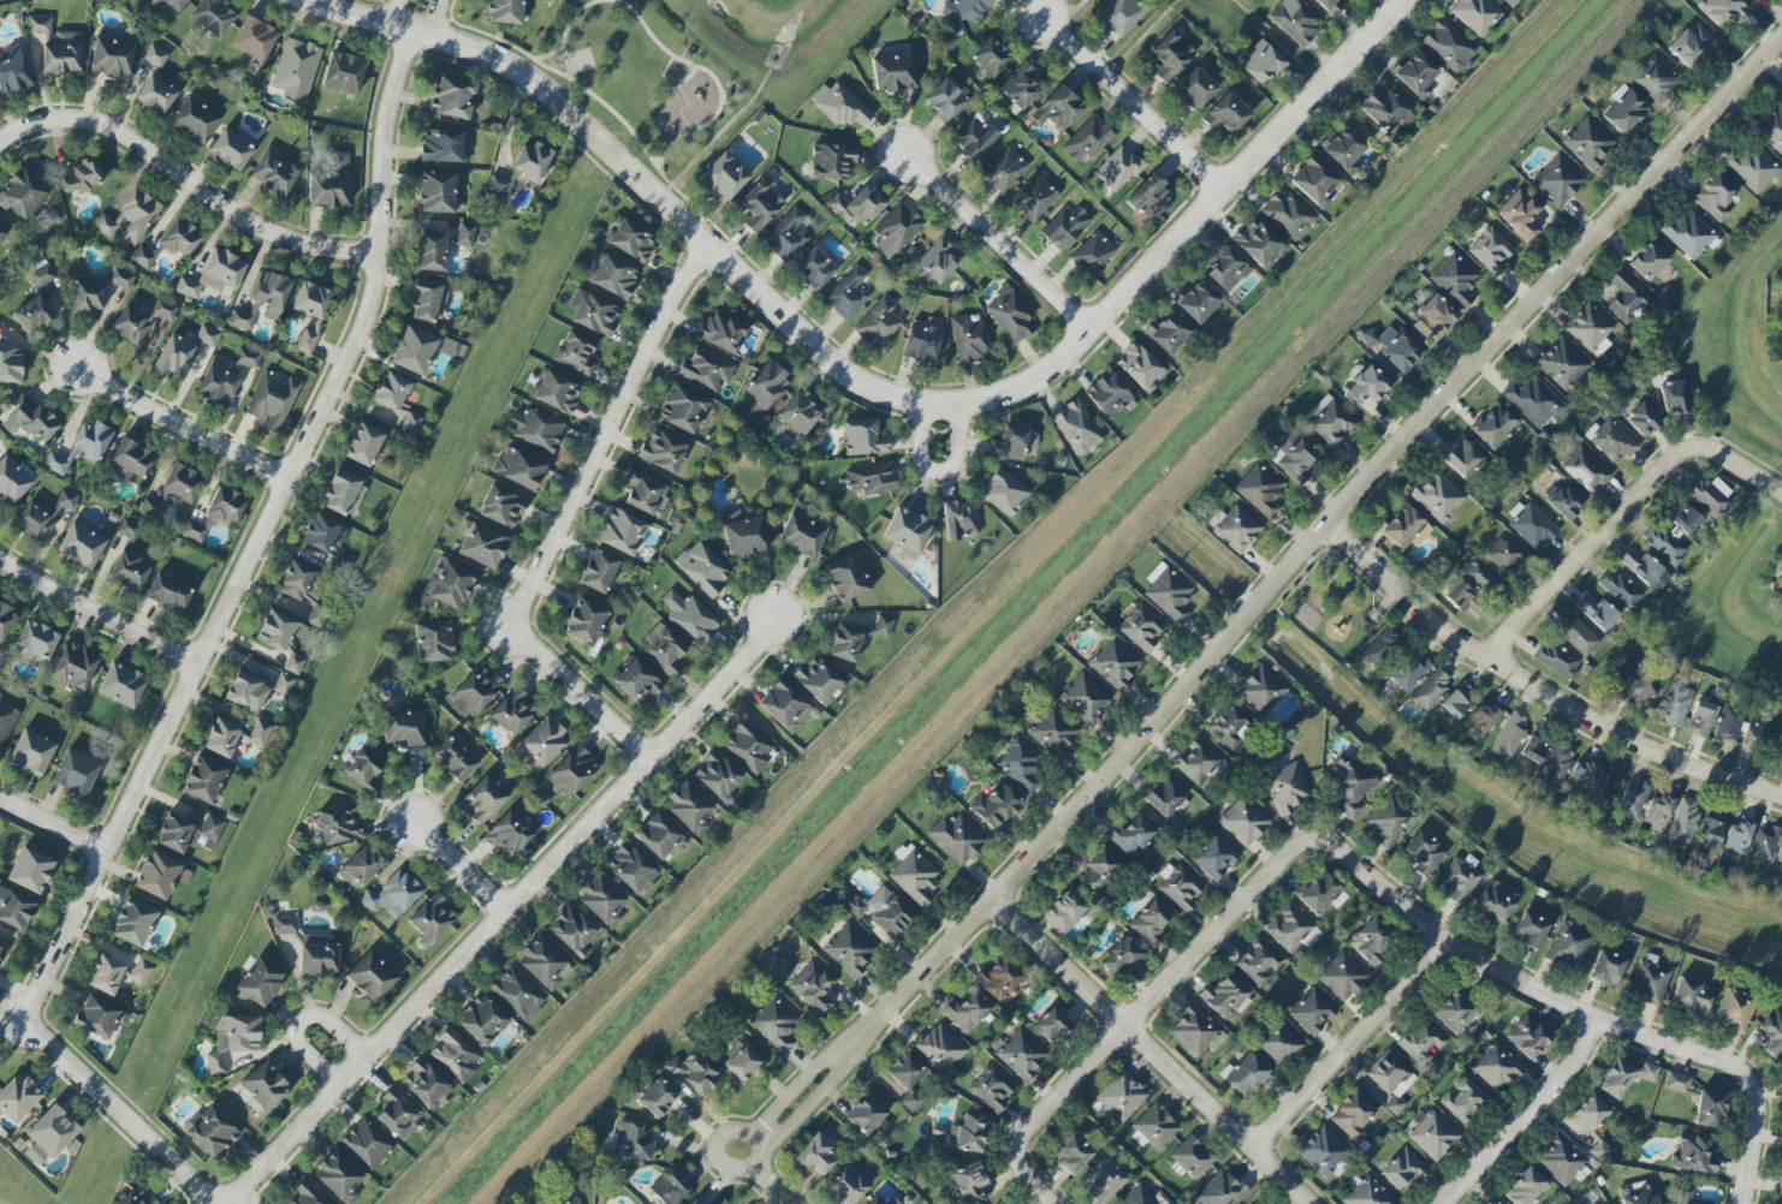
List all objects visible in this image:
building: (1509, 2)
building: (167, 6)
building: (1330, 6)
building: (966, 8)
building: (1721, 10)
building: (504, 11)
building: (1473, 14)
building: (212, 16)
building: (1118, 16)
building: (1295, 19)
building: (254, 38)
building: (1448, 44)
building: (1691, 44)
building: (57, 46)
building: (1171, 54)
building: (112, 55)
building: (154, 55)
building: (990, 58)
building: (1260, 62)
building: (13, 70)
building: (295, 70)
building: (343, 72)
building: (892, 72)
building: (1414, 73)
building: (1651, 77)
building: (1020, 87)
building: (1194, 88)
building: (155, 94)
road: (1131, 95)
building: (452, 99)
building: (946, 100)
building: (839, 105)
building: (1056, 108)
building: (1384, 109)
building: (1622, 111)
building: (1225, 113)
building: (195, 118)
road: (25, 125)
building: (1771, 129)
building: (973, 138)
building: (1087, 139)
building: (1587, 142)
building: (444, 145)
building: (231, 147)
building: (1342, 149)
building: (531, 161)
building: (828, 161)
building: (1118, 168)
building: (1752, 168)
building: (1003, 169)
building: (273, 171)
building: (79, 177)
building: (723, 177)
building: (1557, 180)
building: (1313, 181)
building: (329, 184)
building: (499, 184)
building: (438, 192)
building: (22, 193)
building: (1713, 195)
building: (1150, 196)
road: (665, 197)
road: (213, 198)
building: (1033, 198)
road: (1217, 198)
building: (760, 203)
building: (856, 205)
building: (1285, 214)
building: (1519, 214)
building: (129, 217)
building: (1065, 227)
building: (896, 230)
road: (996, 231)
building: (2, 234)
building: (464, 234)
building: (784, 234)
building: (1688, 234)
building: (178, 238)
building: (630, 240)
building: (1257, 243)
building: (1490, 250)
building: (429, 252)
building: (1092, 254)
building: (142, 257)
building: (937, 261)
building: (1647, 261)
building: (814, 268)
building: (1224, 270)
building: (213, 274)
building: (42, 275)
building: (613, 276)
building: (120, 279)
building: (1454, 280)
building: (269, 292)
building: (845, 292)
building: (87, 297)
building: (1626, 298)
building: (1781, 299)
building: (427, 300)
building: (1196, 302)
building: (309, 312)
building: (594, 314)
building: (32, 315)
building: (1010, 315)
building: (1432, 317)
building: (138, 318)
building: (240, 320)
building: (878, 322)
building: (1590, 329)
building: (721, 333)
building: (1166, 333)
building: (968, 339)
building: (921, 341)
building: (1394, 346)
building: (417, 350)
building: (182, 351)
building: (575, 353)
building: (10, 363)
building: (1562, 363)
building: (244, 364)
building: (1139, 366)
building: (706, 370)
building: (216, 381)
building: (1365, 386)
building: (764, 387)
building: (556, 393)
building: (1109, 395)
building: (271, 399)
building: (1673, 399)
building: (397, 401)
building: (1533, 401)
building: (682, 410)
building: (28, 418)
building: (1330, 421)
building: (1643, 421)
road: (179, 424)
building: (1492, 425)
building: (1076, 427)
building: (535, 428)
road: (606, 434)
building: (863, 439)
building: (1612, 441)
building: (1012, 442)
building: (363, 445)
building: (79, 447)
building: (661, 451)
road: (957, 452)
building: (1293, 455)
building: (1462, 459)
building: (130, 460)
building: (517, 467)
building: (1585, 469)
building: (871, 478)
building: (12, 481)
building: (177, 485)
building: (1259, 490)
building: (643, 491)
building: (1004, 493)
building: (343, 494)
building: (1437, 496)
building: (1709, 496)
building: (1561, 500)
building: (501, 507)
road: (1622, 508)
building: (215, 513)
building: (43, 518)
building: (958, 519)
building: (1686, 520)
road: (271, 524)
building: (1402, 526)
building: (1532, 526)
building: (1235, 529)
building: (622, 532)
building: (801, 532)
building: (905, 532)
building: (323, 534)
building: (744, 536)
building: (81, 542)
building: (1664, 544)
building: (481, 546)
building: (1504, 554)
building: (702, 567)
building: (1643, 568)
building: (127, 570)
building: (1777, 570)
building: (598, 571)
building: (1479, 577)
building: (847, 578)
building: (451, 585)
building: (1620, 590)
building: (302, 591)
building: (167, 592)
building: (1168, 592)
building: (1463, 598)
building: (1597, 612)
road: (1246, 613)
building: (689, 616)
road: (96, 621)
building: (584, 621)
building: (1141, 627)
building: (278, 630)
building: (855, 637)
building: (1578, 637)
building: (433, 640)
building: (35, 643)
building: (1379, 648)
building: (1557, 660)
building: (293, 663)
building: (1113, 663)
building: (73, 666)
building: (1413, 670)
building: (1624, 679)
building: (818, 680)
building: (637, 681)
building: (121, 685)
building: (1430, 689)
road: (1537, 689)
building: (255, 690)
building: (474, 690)
building: (1260, 690)
road: (581, 693)
building: (1647, 696)
building: (1083, 697)
building: (1453, 704)
building: (1676, 704)
building: (784, 705)
building: (511, 711)
building: (1480, 719)
building: (1700, 719)
building: (6, 720)
building: (1230, 723)
building: (1727, 725)
building: (403, 727)
building: (1051, 732)
building: (1754, 732)
building: (1509, 734)
building: (222, 738)
building: (541, 743)
building: (747, 746)
building: (1533, 750)
building: (31, 752)
building: (1780, 757)
building: (453, 759)
building: (1196, 761)
building: (1557, 761)
building: (1018, 765)
building: (362, 770)
building: (571, 770)
building: (75, 773)
building: (715, 775)
building: (1581, 775)
building: (203, 780)
building: (1349, 785)
building: (1287, 788)
building: (1605, 791)
building: (1162, 797)
building: (483, 798)
building: (1632, 799)
building: (994, 805)
building: (1656, 812)
building: (1243, 821)
building: (1386, 821)
building: (1682, 822)
building: (338, 825)
road: (53, 827)
building: (1710, 830)
building: (188, 833)
building: (509, 834)
building: (658, 835)
building: (1130, 836)
building: (955, 838)
building: (1735, 838)
building: (1763, 842)
building: (1422, 852)
building: (1213, 857)
building: (1778, 857)
road: (457, 859)
building: (360, 866)
building: (630, 869)
building: (30, 870)
building: (1099, 870)
building: (159, 875)
building: (913, 875)
building: (1456, 880)
building: (1180, 886)
building: (1317, 892)
building: (392, 894)
building: (602, 901)
building: (848, 902)
building: (1492, 902)
building: (14, 908)
building: (1064, 910)
road: (506, 911)
building: (889, 911)
building: (430, 919)
building: (1150, 922)
building: (132, 923)
building: (284, 925)
building: (1529, 926)
building: (570, 928)
building: (1288, 928)
building: (1371, 940)
building: (1567, 946)
building: (0, 947)
building: (848, 949)
building: (319, 958)
building: (1121, 958)
building: (1257, 961)
building: (542, 964)
building: (1605, 967)
building: (117, 972)
building: (374, 972)
building: (1342, 976)
building: (998, 978)
building: (257, 981)
road: (1529, 982)
building: (1649, 982)
building: (812, 987)
road: (1154, 990)
building: (516, 995)
building: (1691, 996)
building: (1225, 997)
building: (1734, 1008)
building: (1312, 1011)
building: (1455, 1011)
building: (964, 1012)
building: (99, 1017)
building: (481, 1020)
building: (774, 1024)
building: (1050, 1025)
building: (1195, 1031)
building: (1770, 1031)
building: (1527, 1037)
building: (232, 1038)
road: (1355, 1041)
building: (1421, 1042)
building: (1279, 1044)
road: (328, 1047)
building: (939, 1048)
road: (1157, 1049)
building: (1020, 1054)
building: (453, 1056)
building: (739, 1061)
building: (1496, 1067)
building: (689, 1072)
building: (1647, 1072)
building: (1246, 1074)
building: (1615, 1078)
building: (907, 1079)
building: (1390, 1079)
building: (1676, 1081)
building: (424, 1084)
building: (263, 1086)
building: (991, 1087)
building: (655, 1096)
building: (1121, 1096)
building: (17, 1097)
building: (1463, 1099)
road: (120, 1108)
building: (1707, 1109)
building: (398, 1114)
building: (1587, 1114)
building: (863, 1115)
building: (1352, 1116)
road: (1528, 1116)
building: (1153, 1127)
building: (210, 1132)
building: (967, 1133)
building: (48, 1134)
building: (1432, 1136)
building: (630, 1140)
building: (366, 1144)
building: (1321, 1150)
building: (1599, 1150)
road: (1756, 1150)
building: (1070, 1154)
building: (1693, 1154)
building: (815, 1155)
building: (1190, 1157)
building: (1560, 1157)
building: (1403, 1169)
building: (337, 1176)
building: (1103, 1180)
building: (1780, 1180)
building: (968, 1182)
building: (848, 1184)
road: (1032, 1185)
building: (1523, 1186)
building: (667, 1187)
building: (1220, 1190)
building: (1368, 1193)
road: (782, 1194)
building: (1141, 1194)
building: (1635, 1196)
building: (307, 1197)
building: (1689, 1197)
building: (133, 1198)
building: (562, 1199)

